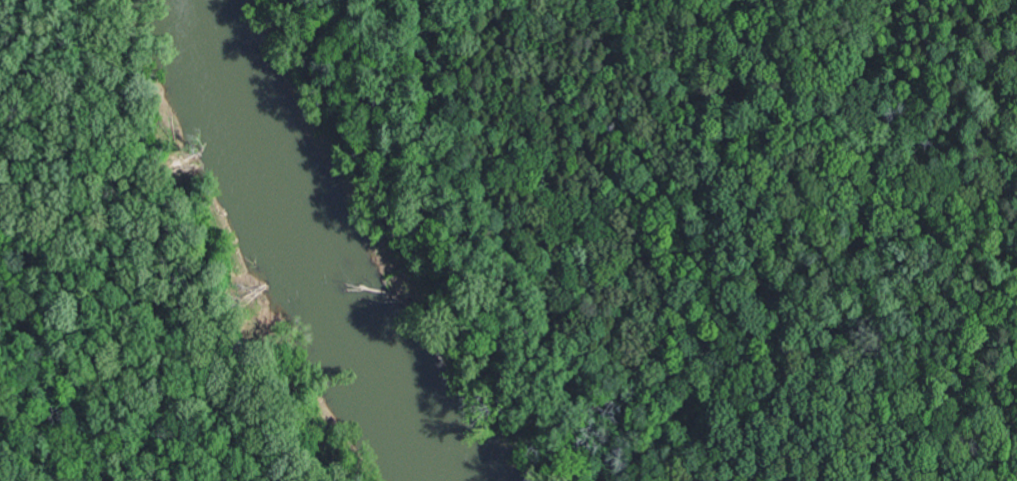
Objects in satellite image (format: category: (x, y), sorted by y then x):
river: (382, 240)

